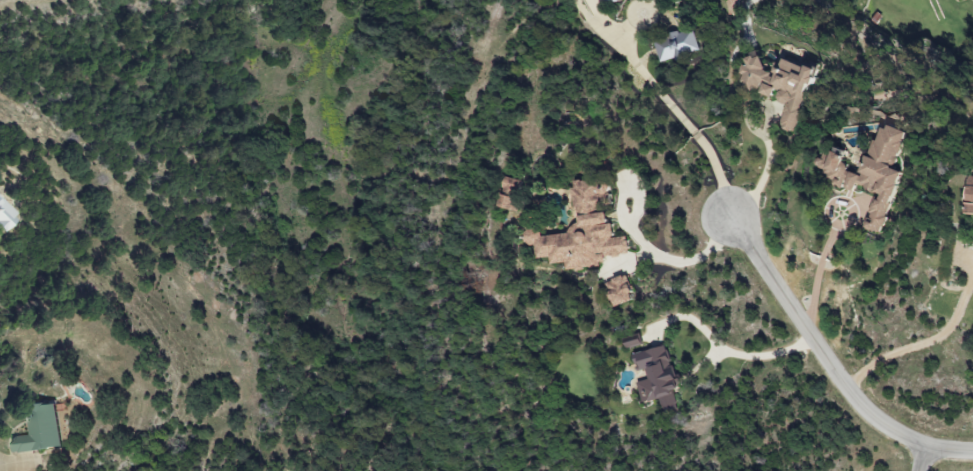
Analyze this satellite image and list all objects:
building: (609, 0)
building: (676, 45)
building: (780, 86)
road: (670, 106)
building: (870, 173)
road: (760, 183)
building: (969, 197)
building: (5, 216)
building: (581, 231)
road: (693, 262)
road: (819, 270)
building: (619, 291)
road: (919, 342)
road: (725, 352)
road: (830, 367)
building: (656, 378)
building: (38, 430)
road: (920, 459)
road: (3, 464)
road: (15, 465)

